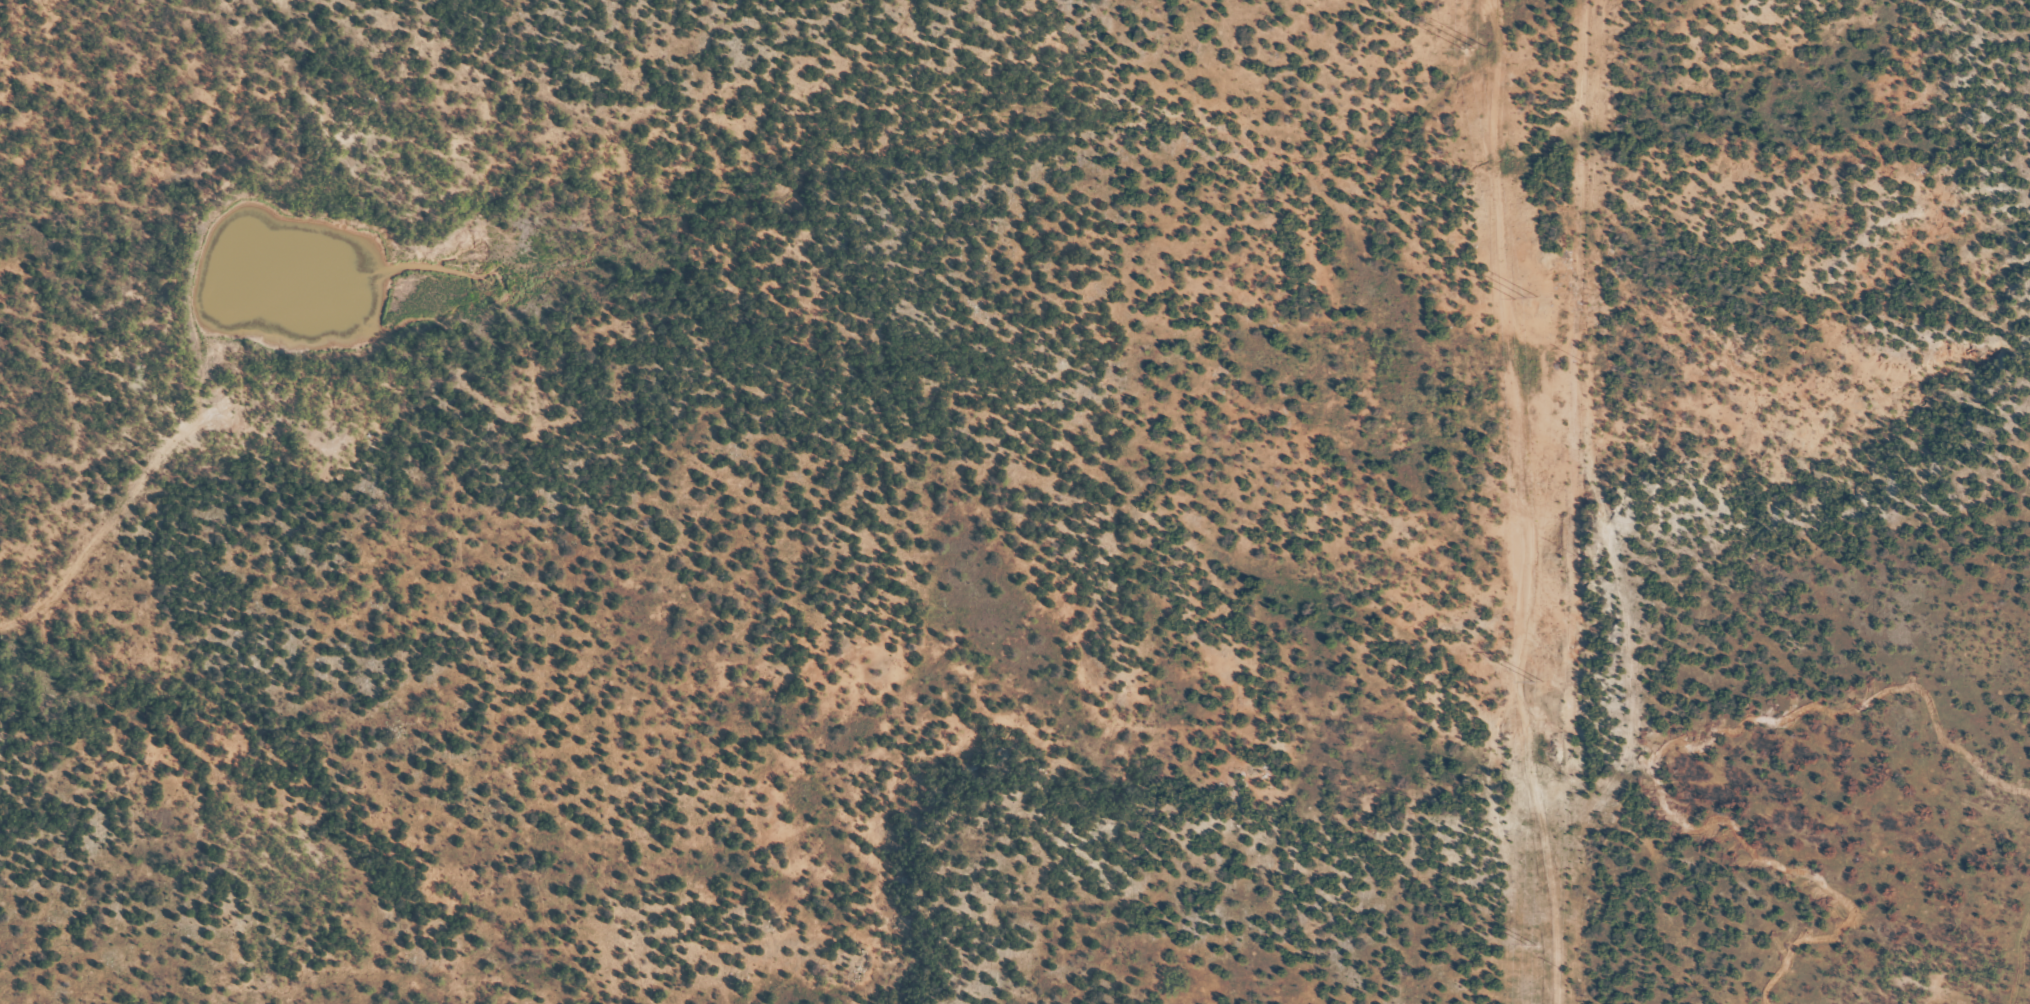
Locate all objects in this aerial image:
power tower: (1474, 47)
power tower: (1527, 297)
road: (82, 539)
power tower: (1538, 680)
power tower: (1531, 944)
road: (2022, 983)

